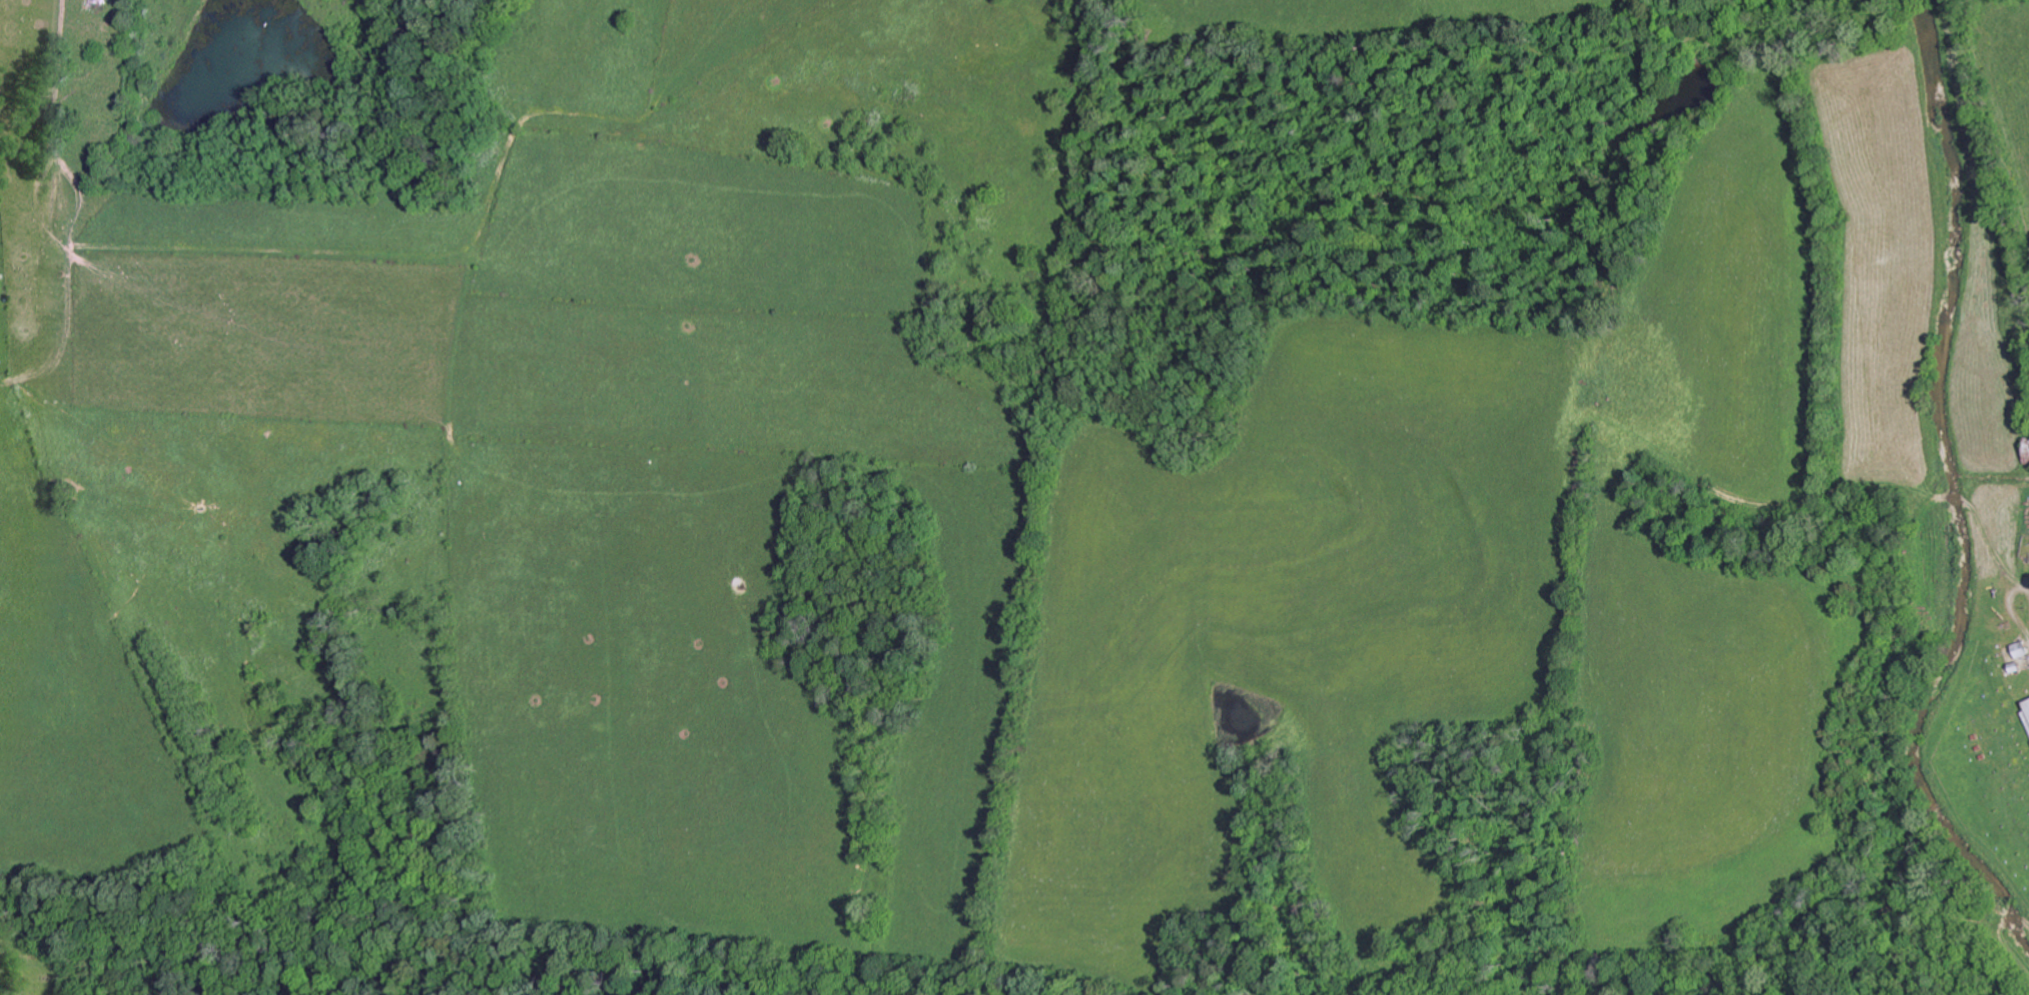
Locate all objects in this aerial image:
road: (2003, 515)
building: (2021, 648)
road: (1993, 860)

